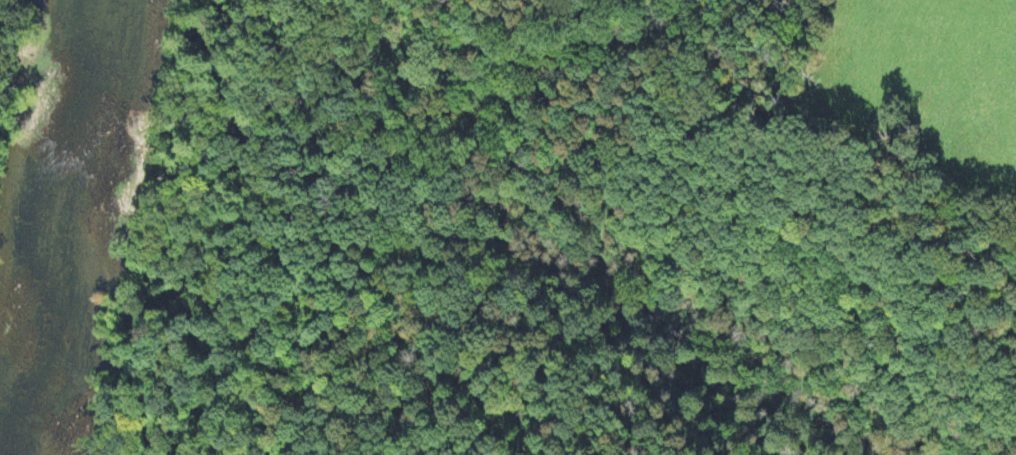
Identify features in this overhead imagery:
river: (70, 227)

